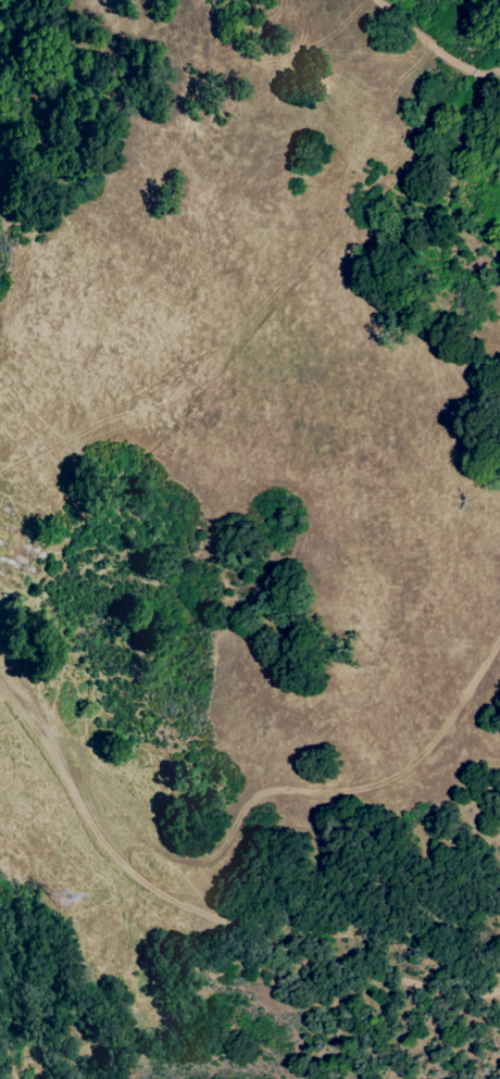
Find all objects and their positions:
power tower: (50, 903)

